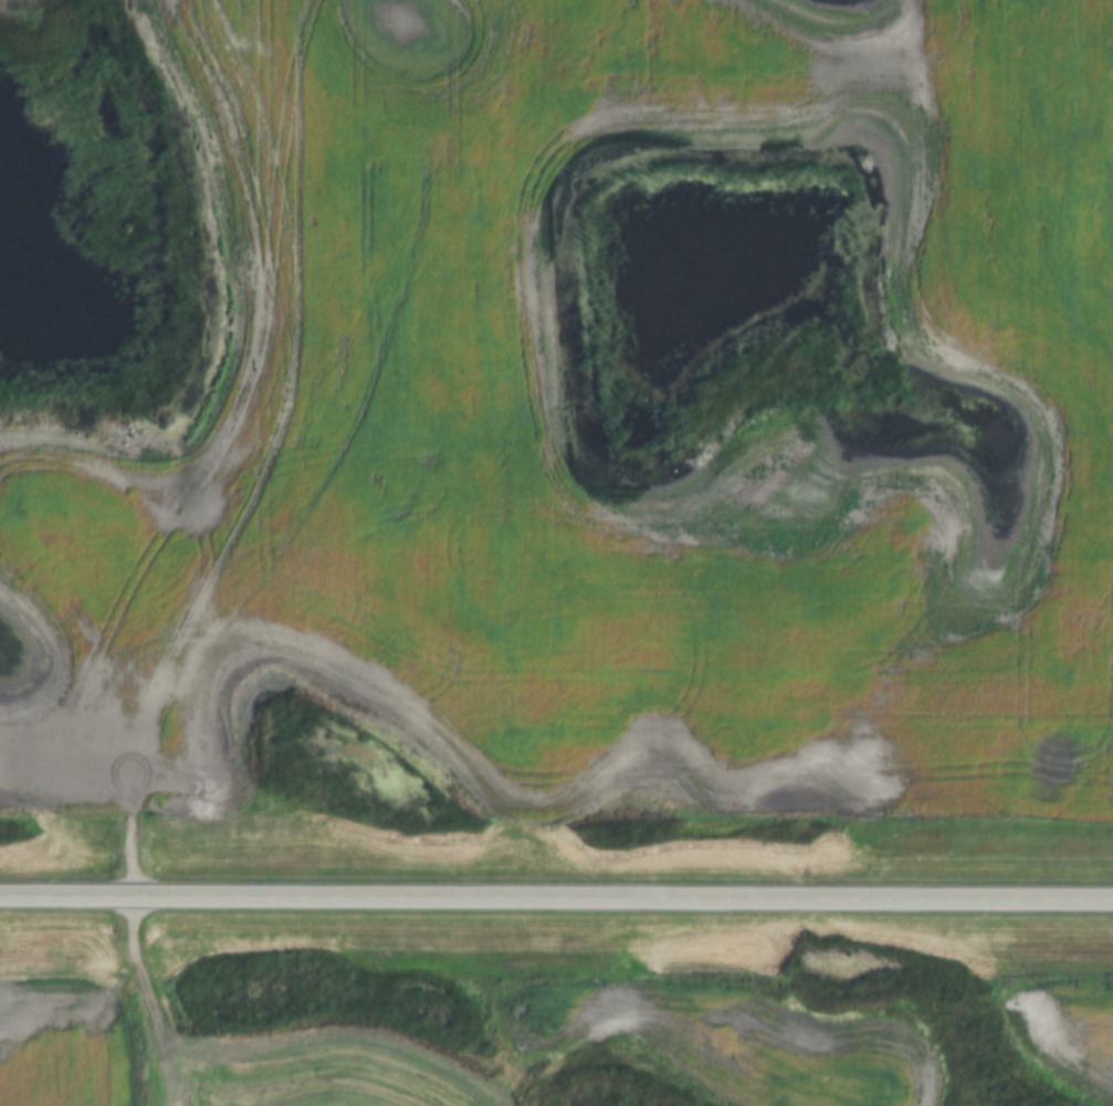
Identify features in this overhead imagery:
road: (556, 899)

